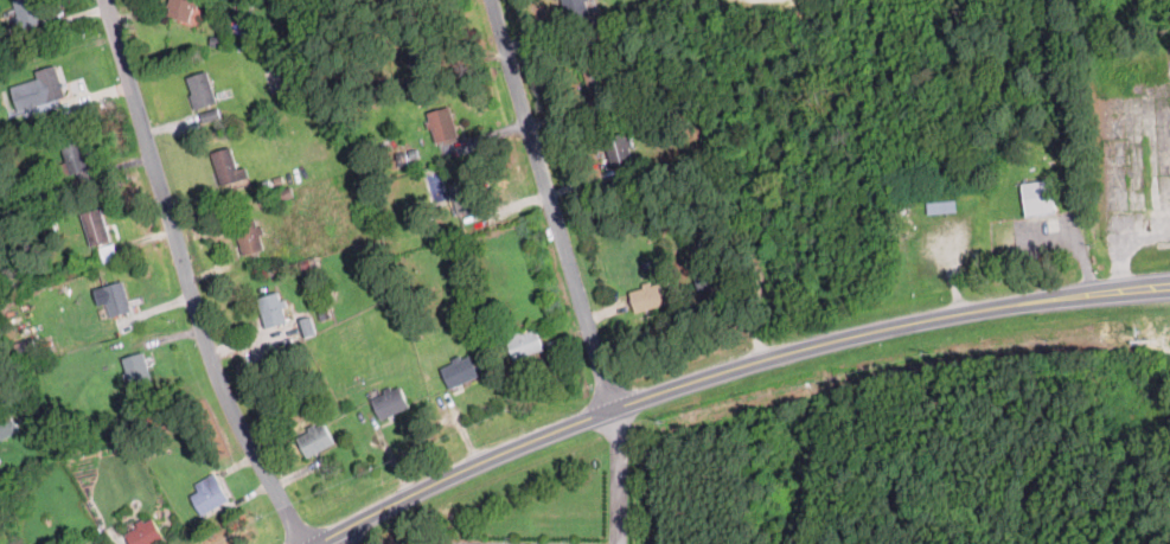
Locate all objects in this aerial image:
building: (575, 8)
building: (183, 9)
building: (26, 14)
building: (420, 51)
building: (599, 78)
building: (40, 89)
building: (203, 90)
building: (207, 114)
building: (443, 123)
building: (620, 149)
building: (76, 156)
building: (228, 167)
building: (1036, 196)
building: (465, 197)
road: (554, 204)
building: (939, 205)
building: (97, 228)
building: (251, 237)
building: (714, 277)
road: (186, 281)
building: (650, 296)
building: (117, 299)
building: (274, 309)
building: (526, 344)
building: (30, 350)
road: (728, 369)
building: (139, 371)
building: (461, 372)
building: (392, 403)
building: (7, 427)
building: (318, 440)
road: (620, 475)
building: (211, 493)
building: (147, 533)
road: (350, 535)

